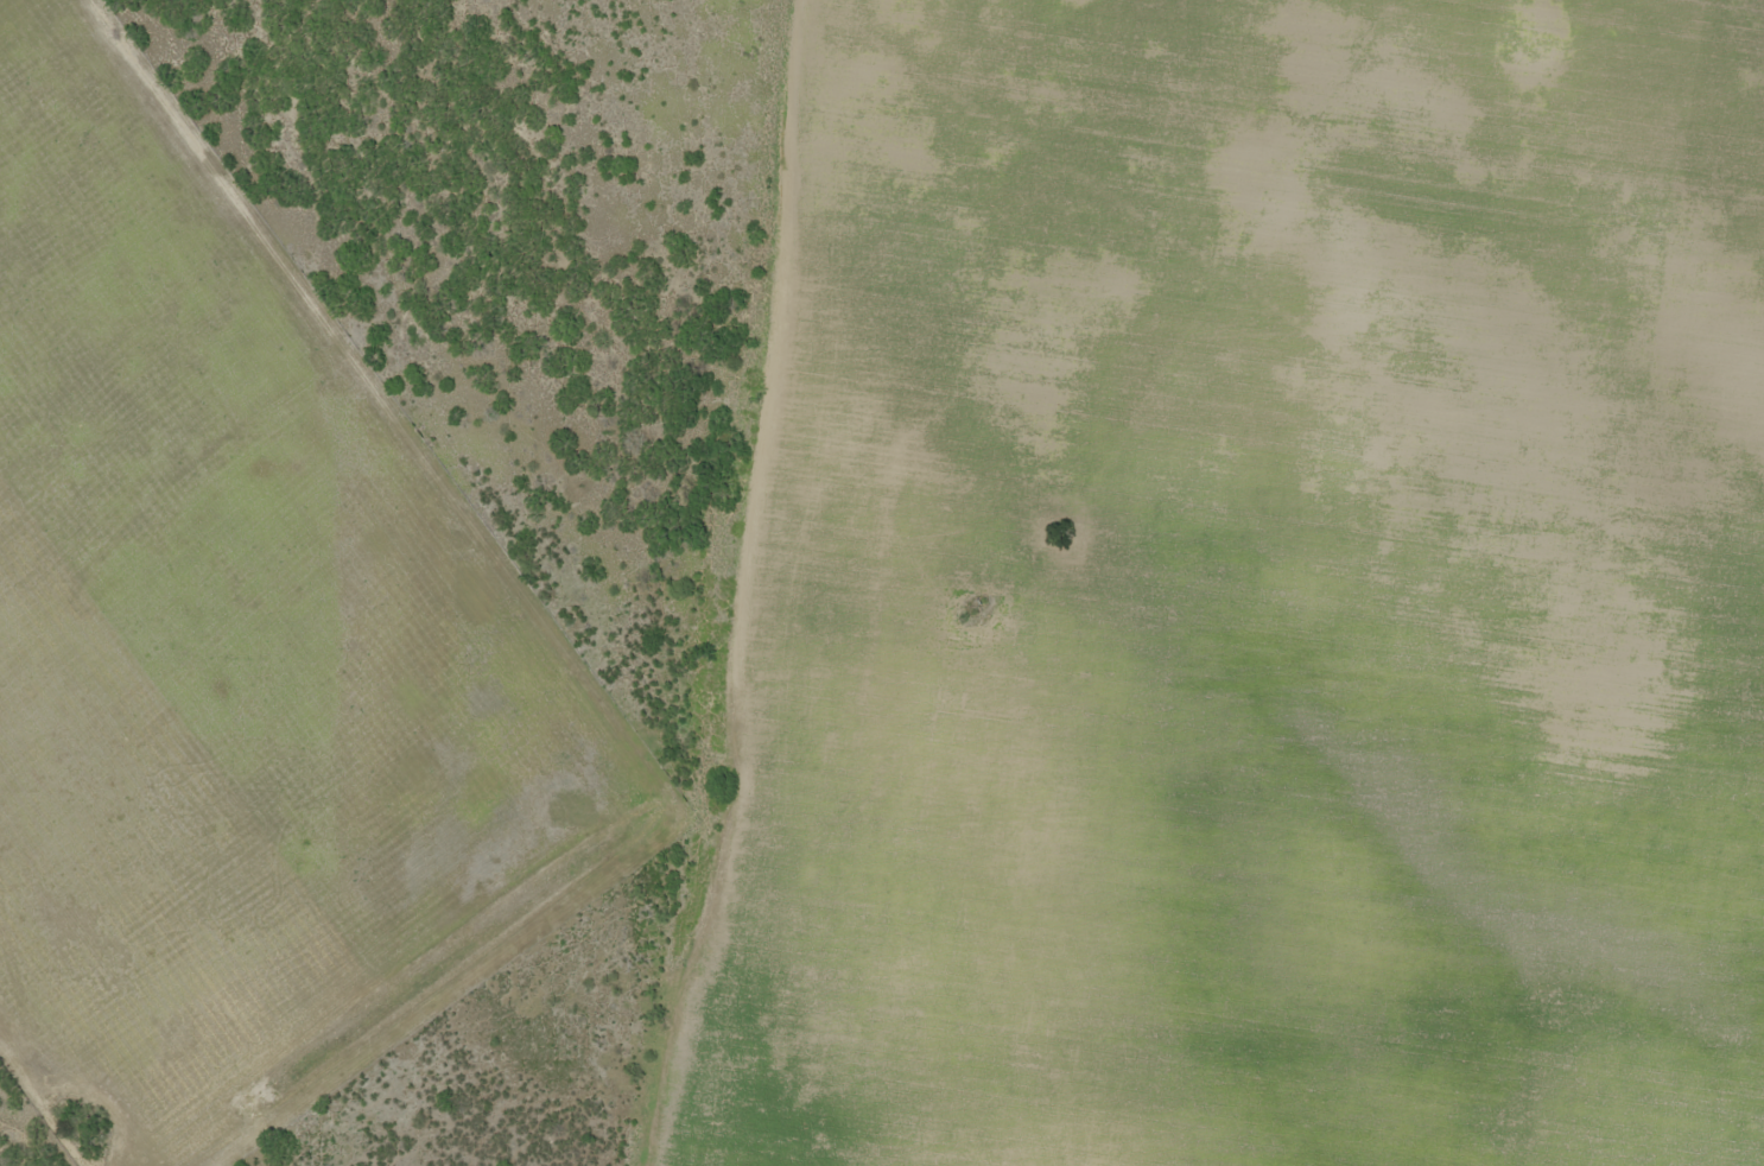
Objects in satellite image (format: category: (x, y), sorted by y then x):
road: (787, 583)
airport: (242, 654)

